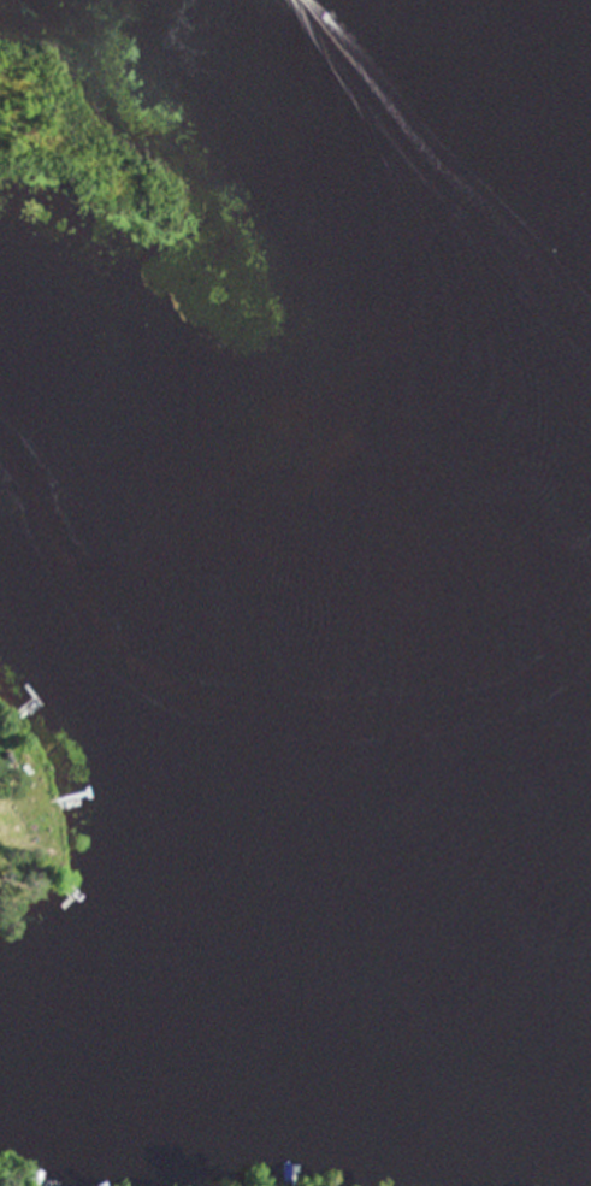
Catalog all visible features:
river: (569, 58)

